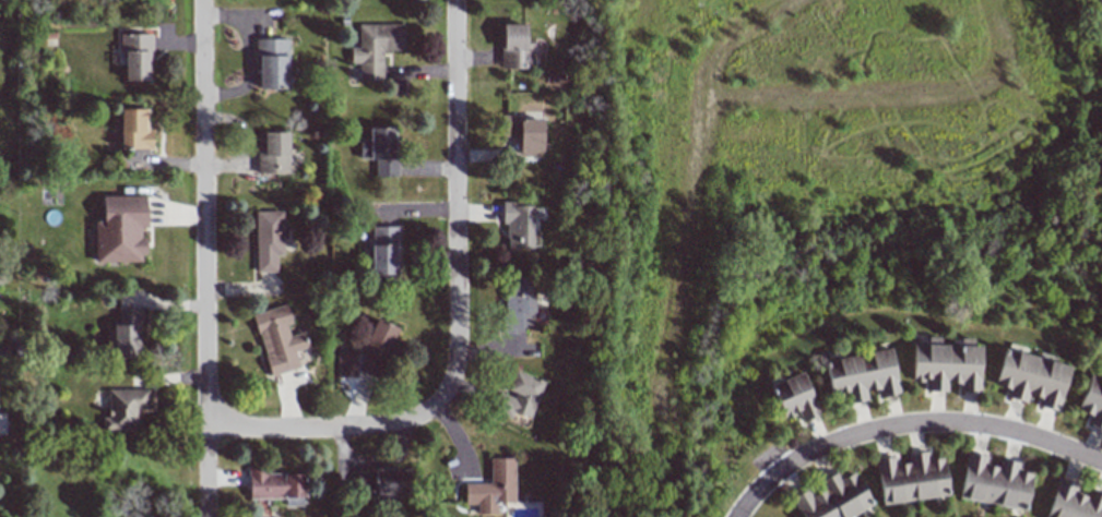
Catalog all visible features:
building: (514, 47)
building: (375, 48)
road: (248, 55)
building: (137, 56)
building: (272, 63)
building: (134, 129)
building: (522, 133)
building: (380, 149)
building: (272, 153)
road: (455, 211)
building: (519, 225)
building: (120, 229)
building: (268, 240)
building: (383, 251)
road: (203, 257)
building: (518, 303)
building: (126, 334)
building: (379, 338)
building: (277, 339)
building: (2, 351)
building: (346, 363)
building: (946, 365)
building: (862, 374)
building: (1031, 378)
building: (518, 396)
building: (794, 397)
building: (1092, 400)
building: (125, 409)
road: (949, 423)
road: (317, 426)
building: (911, 478)
building: (382, 482)
building: (994, 482)
building: (276, 485)
road: (762, 485)
building: (493, 486)
building: (833, 498)
building: (1074, 502)

